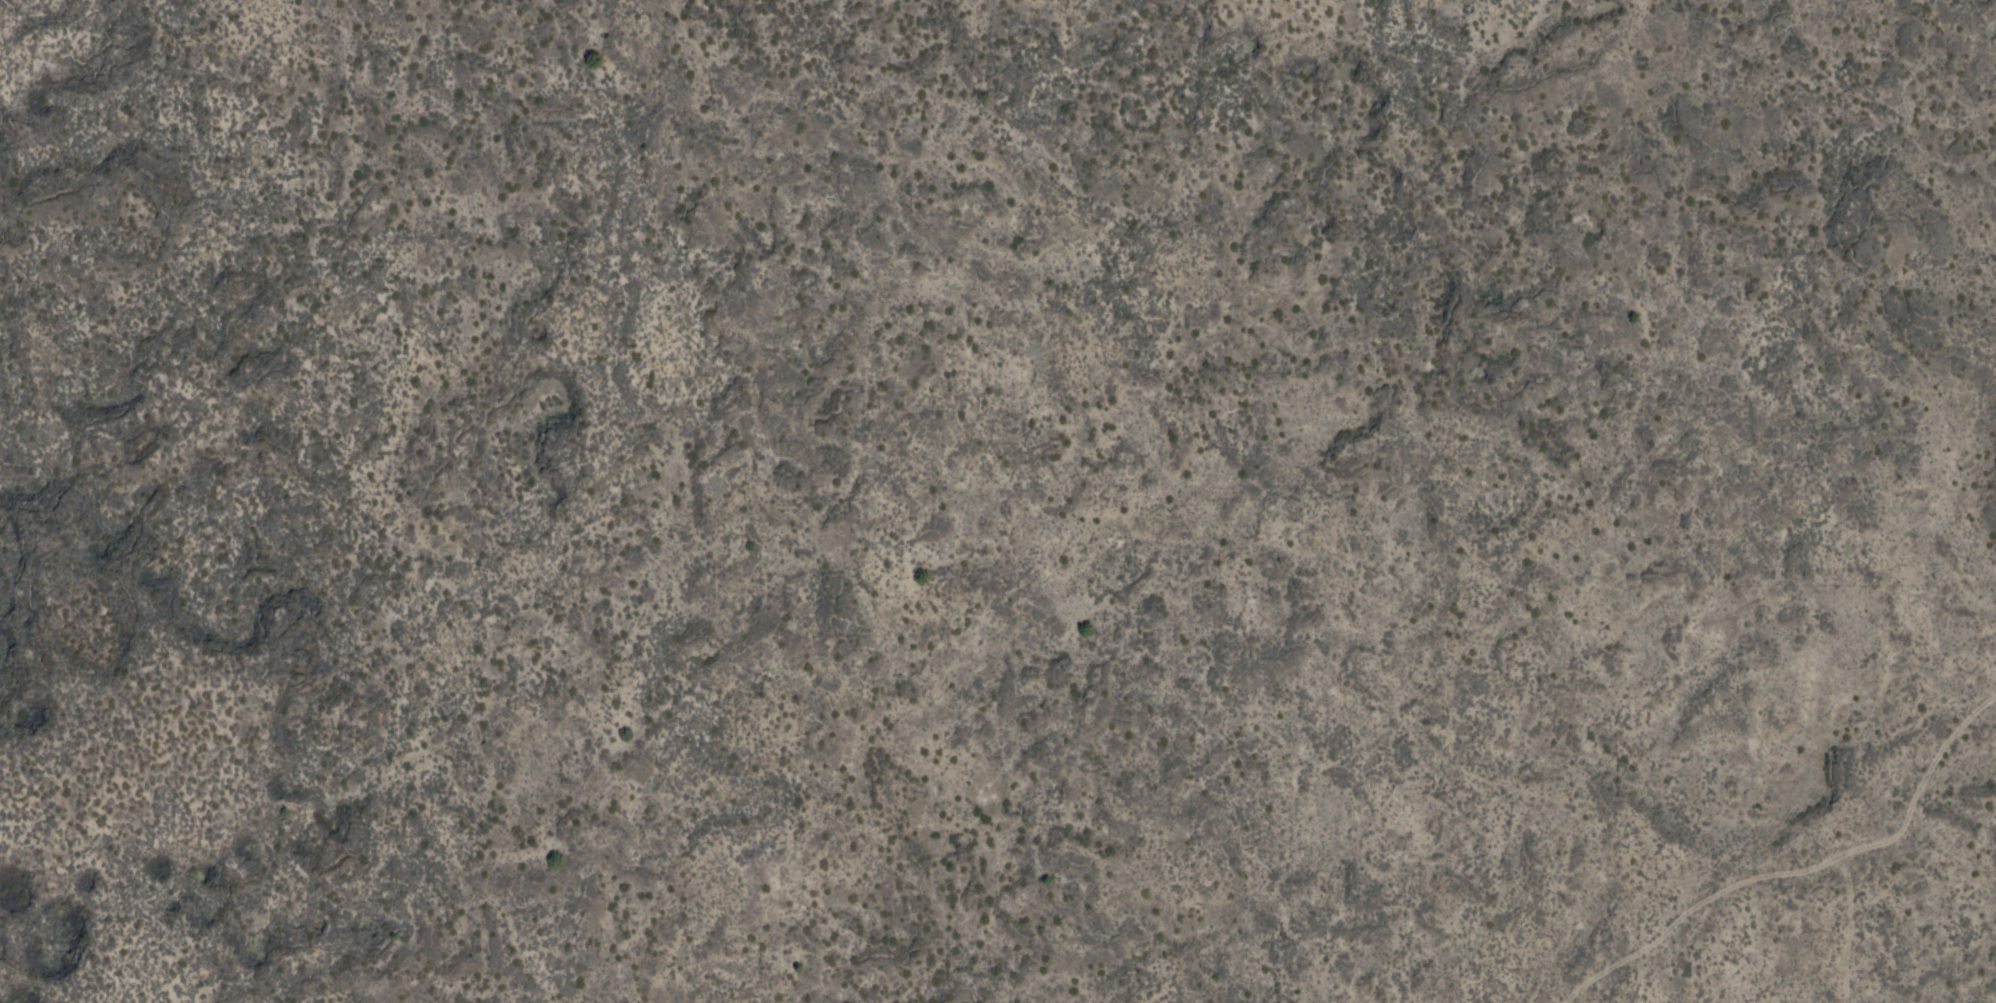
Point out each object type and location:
road: (1801, 871)

